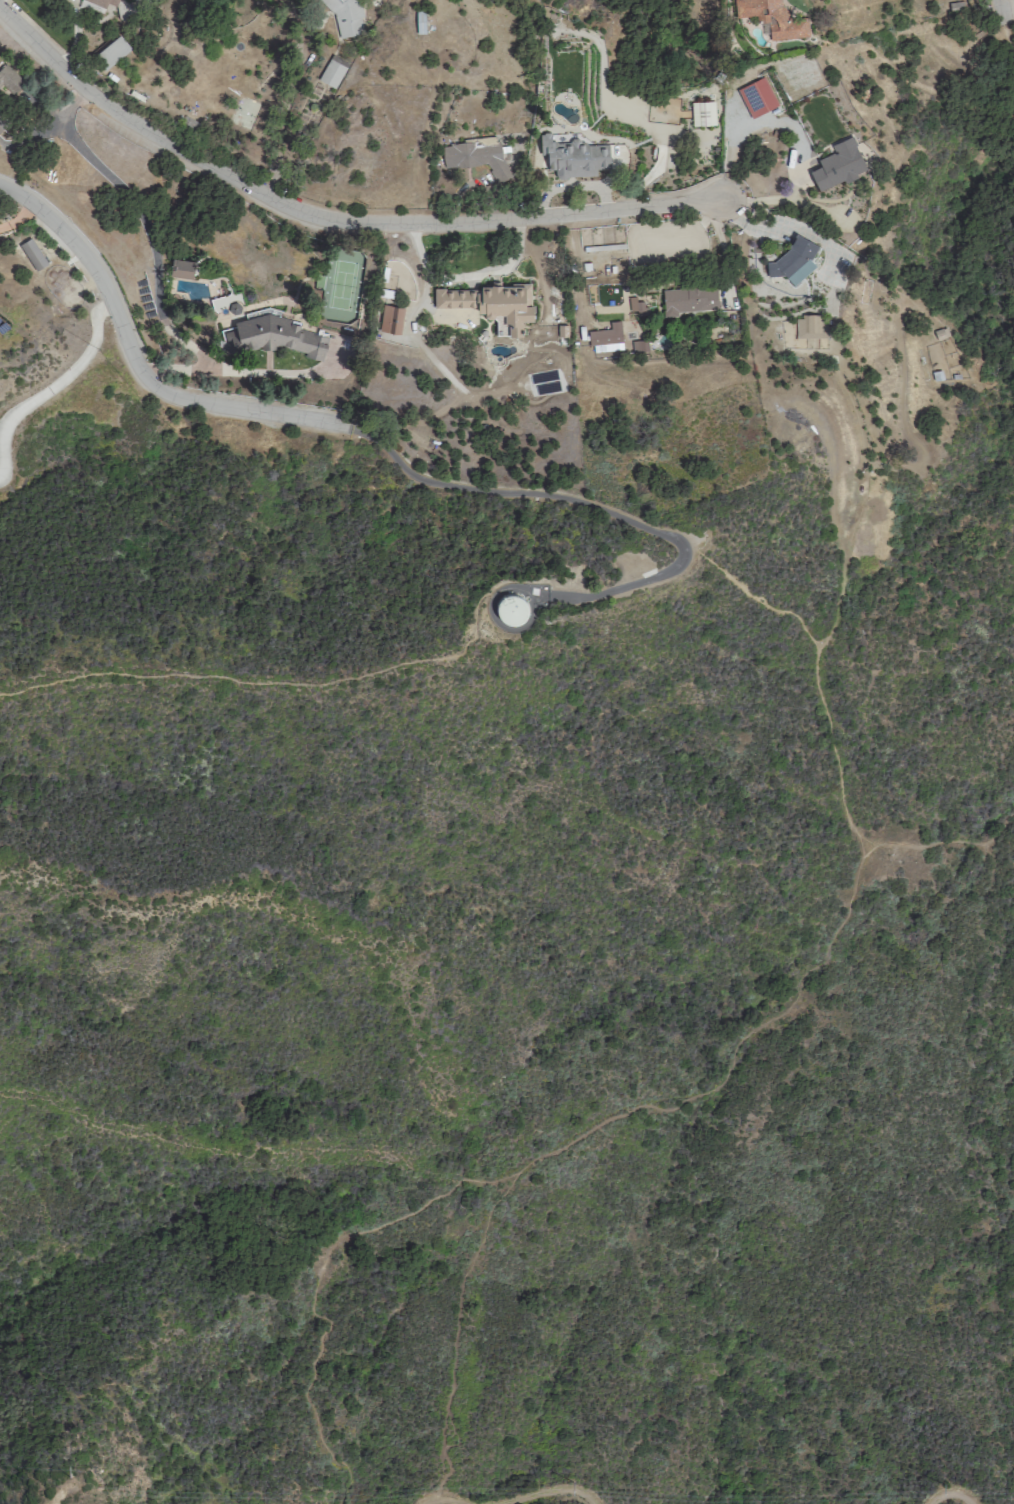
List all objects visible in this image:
building: (103, 2)
road: (1004, 2)
building: (956, 6)
road: (1009, 14)
building: (346, 15)
building: (774, 17)
building: (111, 51)
building: (332, 70)
building: (9, 78)
building: (702, 113)
building: (3, 123)
road: (792, 127)
road: (278, 128)
building: (573, 156)
building: (475, 157)
building: (838, 163)
road: (332, 219)
road: (145, 225)
road: (766, 228)
building: (32, 254)
building: (792, 260)
building: (181, 268)
road: (465, 275)
building: (689, 299)
building: (491, 302)
building: (391, 319)
building: (810, 326)
building: (272, 336)
building: (605, 338)
road: (133, 362)
road: (248, 373)
road: (65, 376)
road: (886, 452)
road: (0, 465)
road: (591, 507)
road: (845, 562)
building: (511, 608)
storage tank: (511, 608)
road: (816, 664)
road: (317, 687)
road: (592, 1123)
road: (456, 1335)
road: (952, 1490)
road: (557, 1491)
road: (446, 1499)

